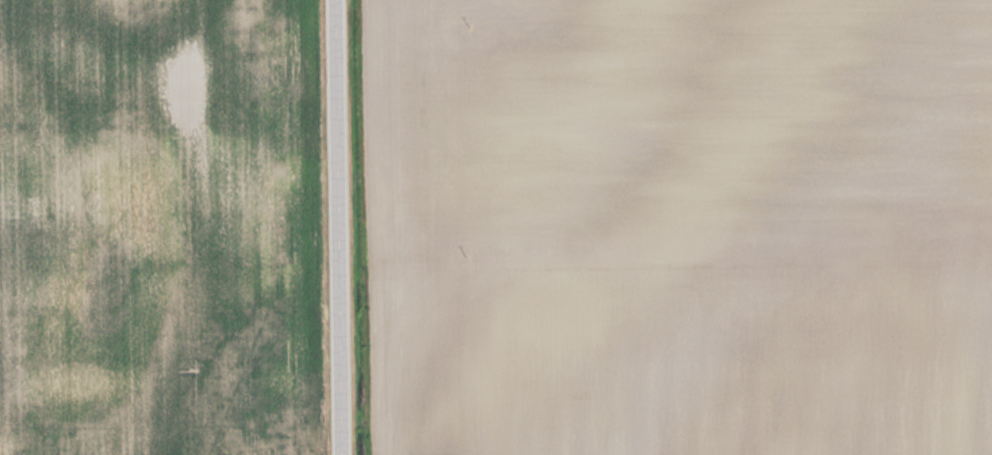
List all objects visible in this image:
road: (338, 227)

